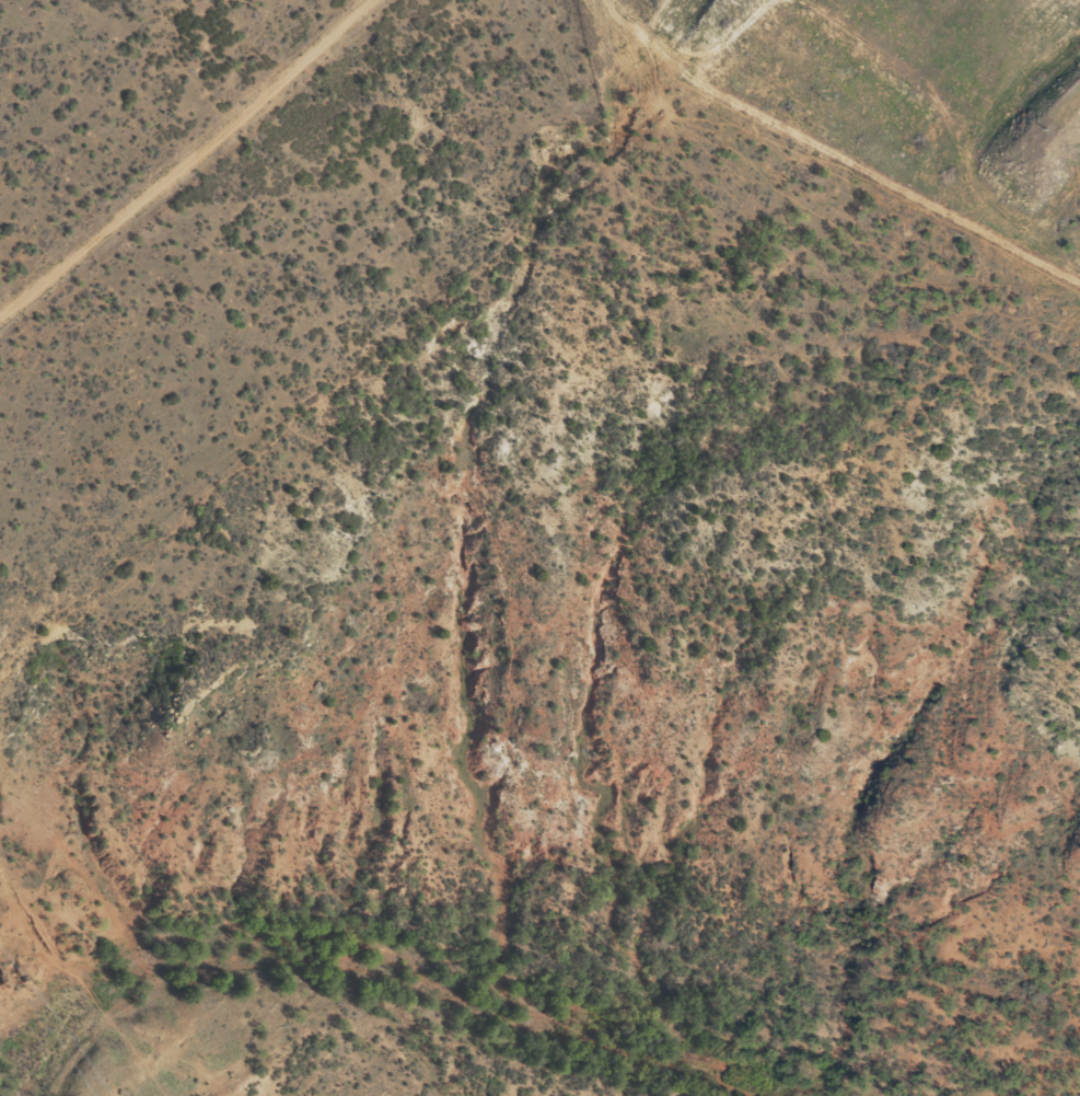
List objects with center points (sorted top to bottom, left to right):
road: (813, 181)

